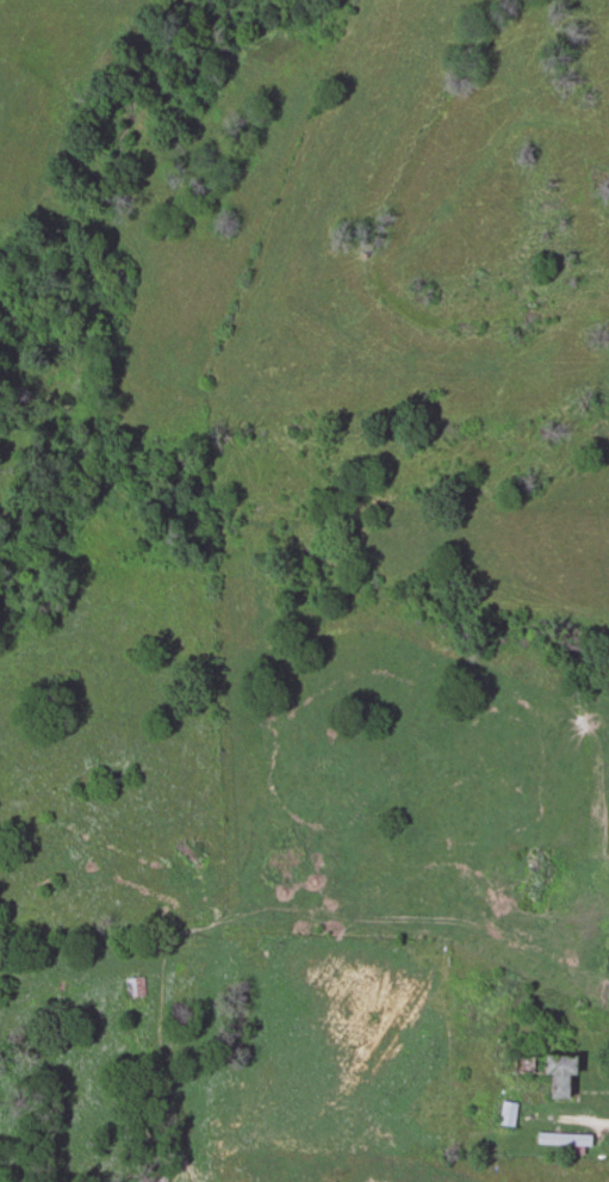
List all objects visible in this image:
building: (133, 986)
building: (557, 1075)
building: (505, 1113)
road: (574, 1115)
building: (563, 1139)

